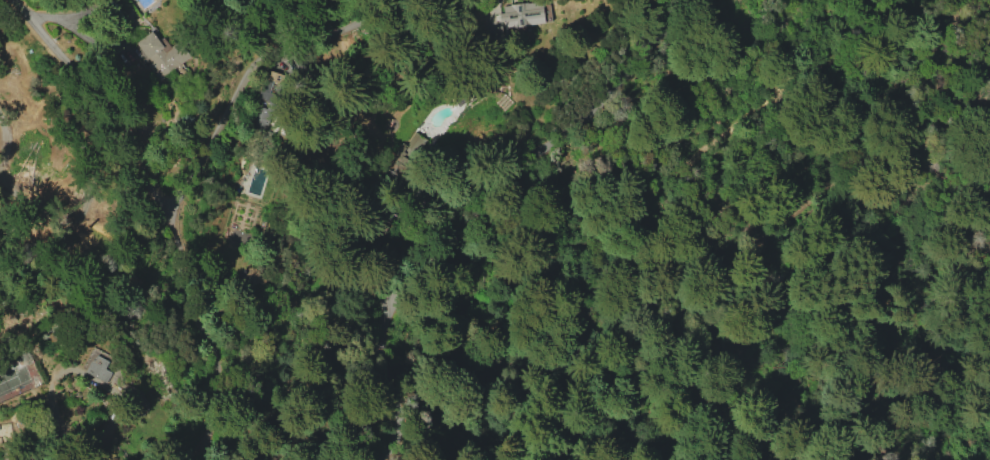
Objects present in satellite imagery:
building: (153, 52)
road: (103, 98)
road: (187, 190)
road: (479, 199)
building: (98, 368)

